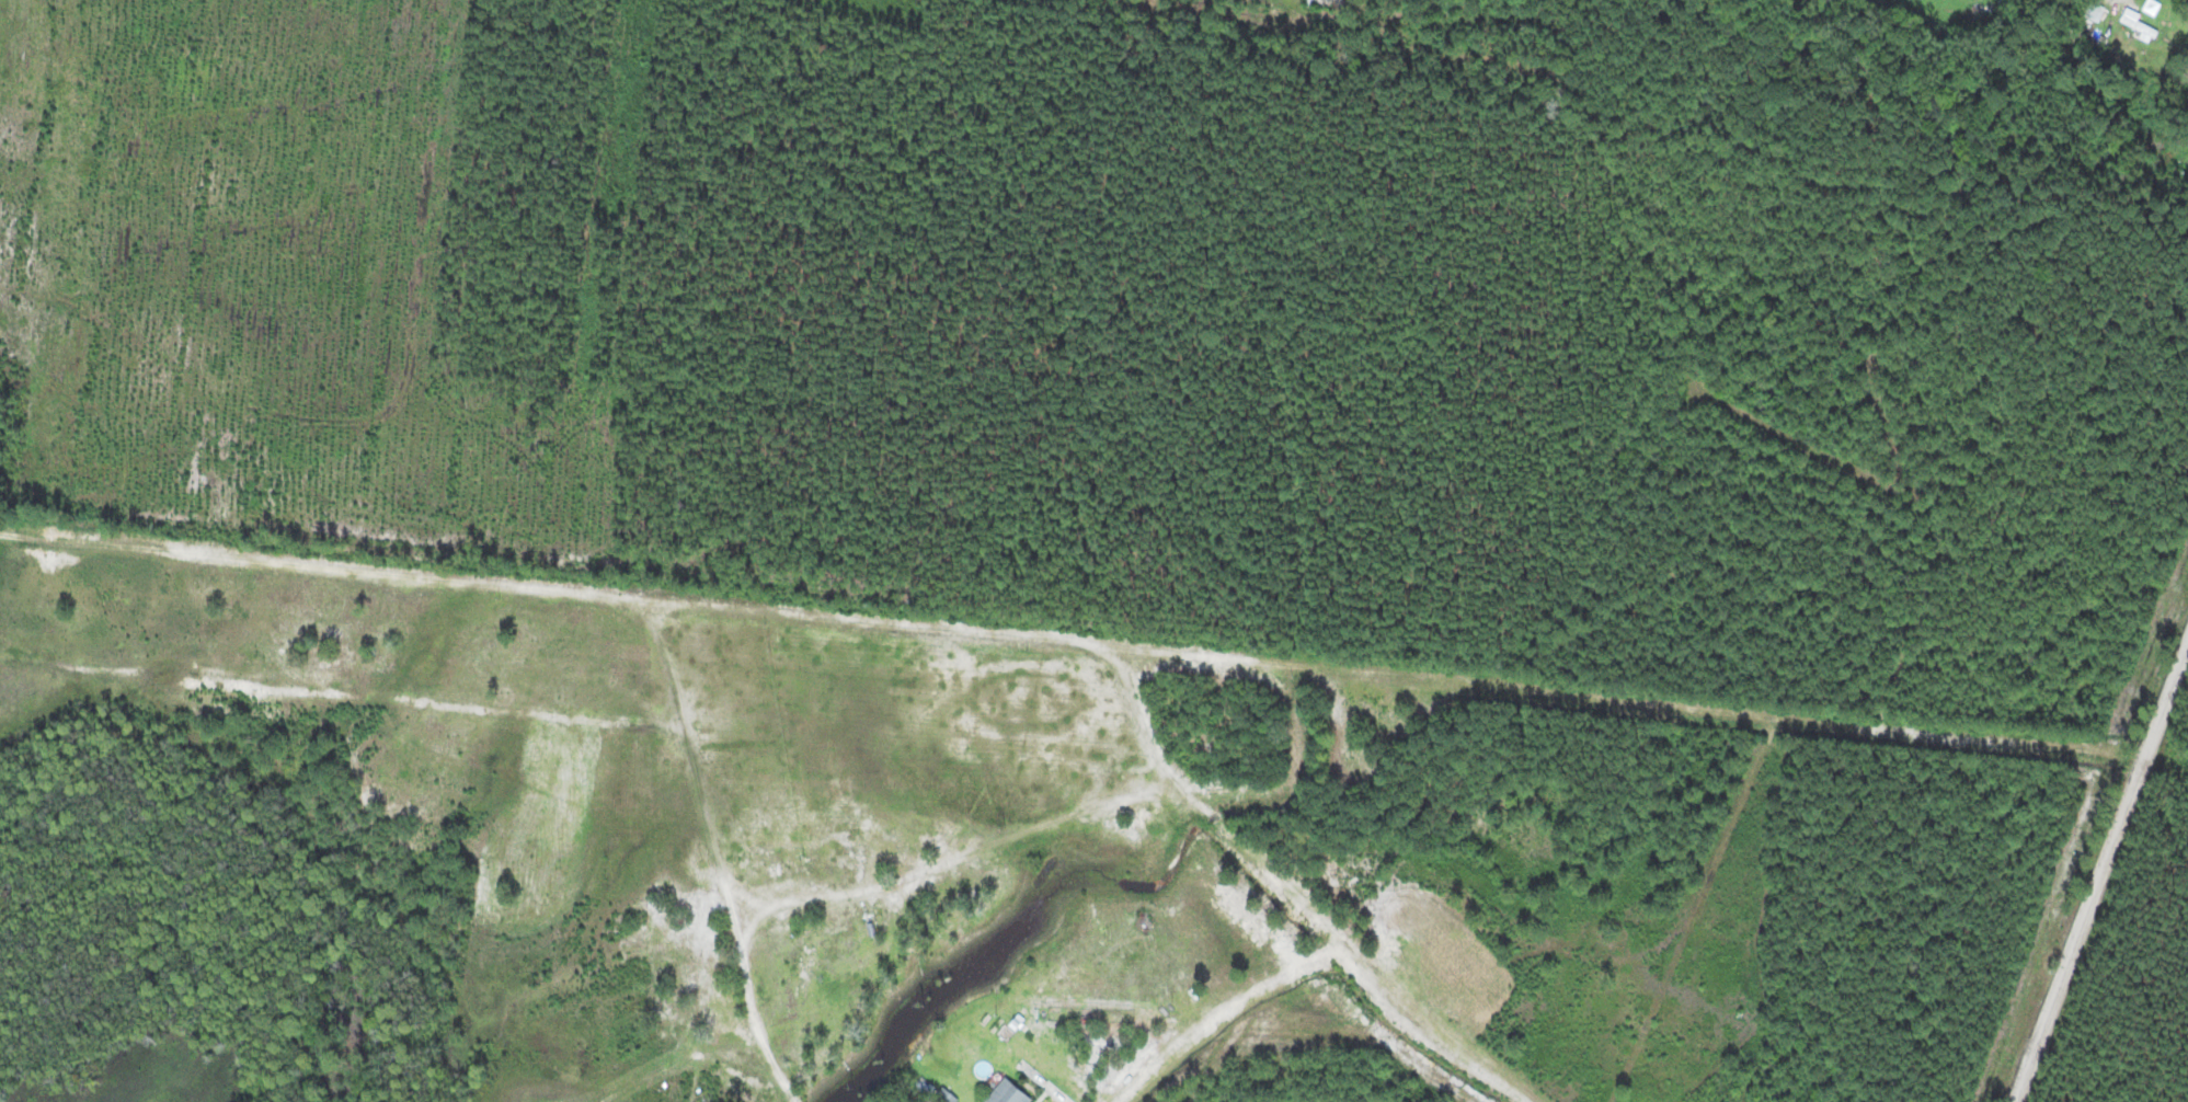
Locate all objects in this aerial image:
building: (2139, 24)
road: (2101, 873)
building: (859, 931)
building: (803, 969)
building: (1004, 1093)
building: (943, 1095)

